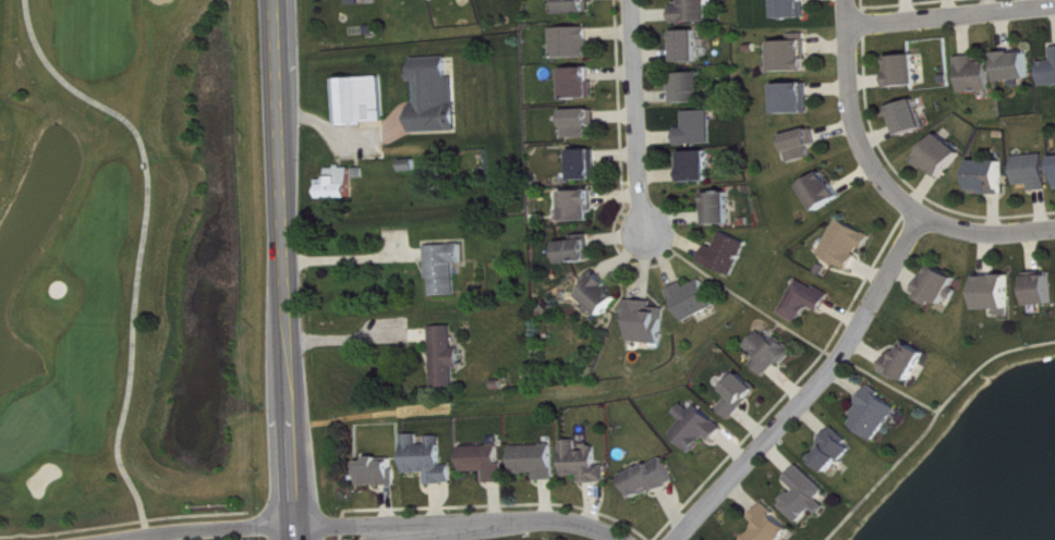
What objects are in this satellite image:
building: (579, 7)
building: (795, 9)
building: (694, 12)
road: (951, 12)
building: (574, 44)
building: (690, 47)
building: (792, 58)
building: (1019, 66)
building: (908, 71)
building: (1050, 74)
building: (978, 75)
building: (582, 84)
building: (694, 88)
building: (438, 97)
building: (795, 99)
building: (363, 101)
road: (638, 115)
building: (912, 118)
building: (583, 123)
building: (700, 130)
road: (343, 134)
building: (803, 146)
building: (945, 157)
building: (587, 165)
building: (701, 167)
building: (1035, 172)
building: (992, 177)
road: (885, 179)
building: (341, 184)
building: (825, 192)
building: (582, 206)
building: (721, 209)
road: (151, 235)
building: (850, 245)
building: (579, 250)
building: (730, 255)
building: (447, 269)
road: (286, 270)
park: (129, 283)
building: (943, 287)
building: (1044, 290)
building: (998, 294)
building: (604, 297)
building: (696, 300)
building: (809, 302)
building: (648, 322)
road: (352, 335)
building: (773, 354)
building: (448, 357)
building: (909, 363)
road: (814, 388)
building: (743, 396)
building: (878, 415)
building: (701, 428)
building: (837, 452)
building: (431, 459)
building: (487, 462)
building: (539, 462)
building: (587, 464)
building: (381, 474)
building: (655, 479)
building: (810, 495)
building: (773, 526)
road: (160, 527)
road: (402, 527)

